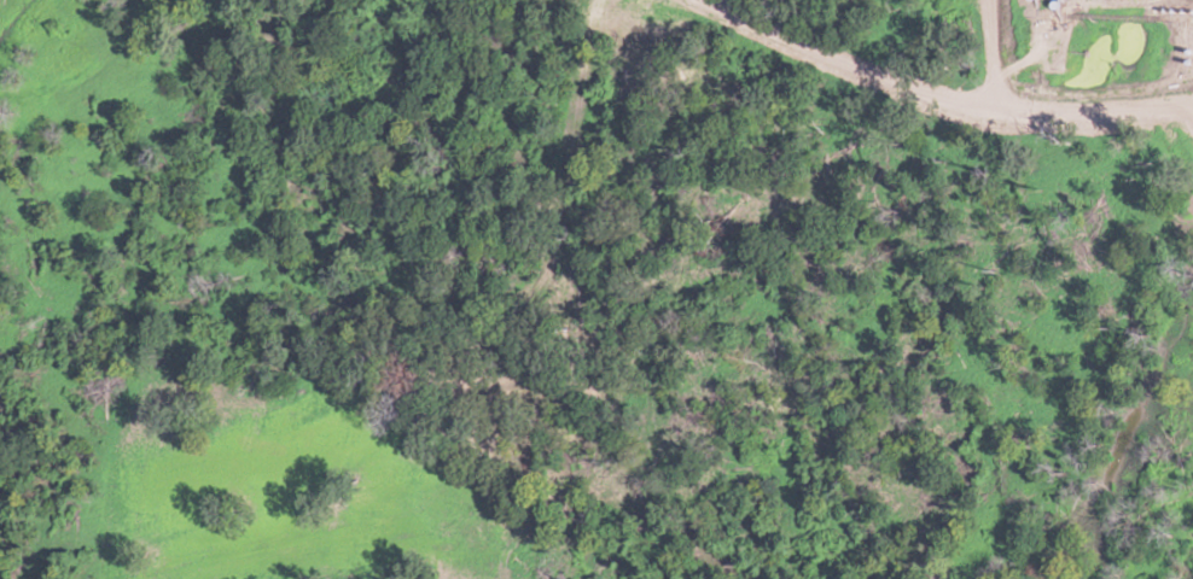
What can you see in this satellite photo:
road: (944, 89)

